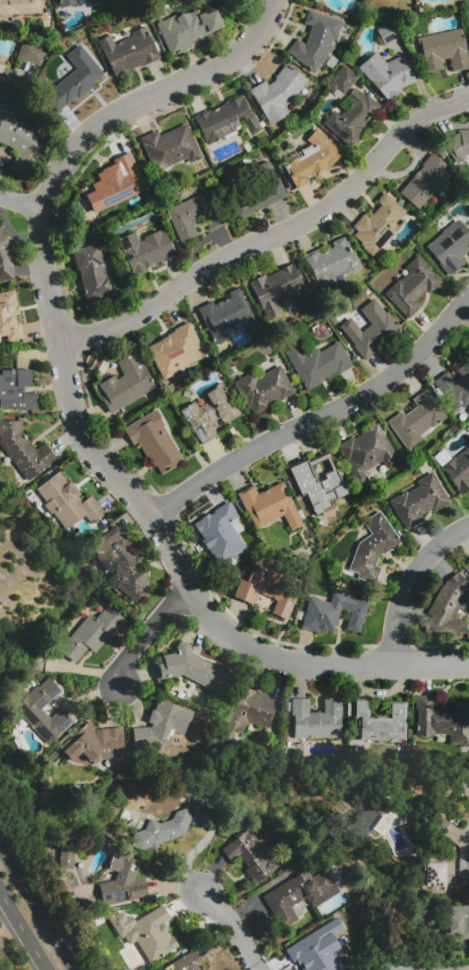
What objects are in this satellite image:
building: (95, 0)
building: (66, 3)
building: (20, 6)
building: (188, 29)
building: (315, 40)
building: (444, 50)
building: (129, 51)
building: (32, 53)
building: (387, 74)
building: (5, 78)
building: (75, 79)
building: (344, 80)
building: (278, 93)
building: (353, 116)
building: (225, 120)
building: (20, 140)
building: (458, 144)
building: (170, 147)
building: (313, 159)
building: (424, 181)
building: (116, 184)
building: (258, 192)
road: (19, 200)
building: (198, 215)
building: (378, 225)
road: (273, 237)
building: (450, 247)
building: (146, 249)
road: (44, 252)
building: (5, 258)
building: (330, 264)
building: (93, 273)
building: (412, 286)
building: (276, 289)
building: (227, 314)
building: (9, 317)
building: (372, 330)
building: (175, 350)
building: (318, 363)
building: (127, 384)
building: (455, 387)
building: (264, 389)
building: (16, 391)
building: (209, 415)
road: (316, 416)
building: (417, 420)
building: (154, 441)
building: (23, 449)
building: (367, 452)
building: (458, 471)
building: (318, 484)
building: (420, 500)
building: (68, 502)
building: (269, 506)
building: (221, 537)
building: (373, 548)
building: (468, 561)
building: (125, 564)
road: (407, 581)
building: (266, 586)
building: (449, 607)
building: (333, 613)
building: (93, 633)
road: (148, 633)
road: (314, 663)
building: (187, 668)
building: (44, 711)
building: (249, 712)
building: (317, 719)
building: (442, 720)
building: (381, 722)
building: (162, 727)
building: (93, 744)
building: (383, 816)
building: (438, 821)
building: (170, 828)
building: (335, 830)
road: (465, 842)
building: (249, 856)
building: (65, 857)
building: (435, 874)
building: (122, 880)
building: (310, 892)
road: (36, 904)
building: (459, 921)
road: (23, 927)
road: (226, 929)
building: (146, 932)
building: (318, 949)
building: (186, 962)
building: (204, 969)

